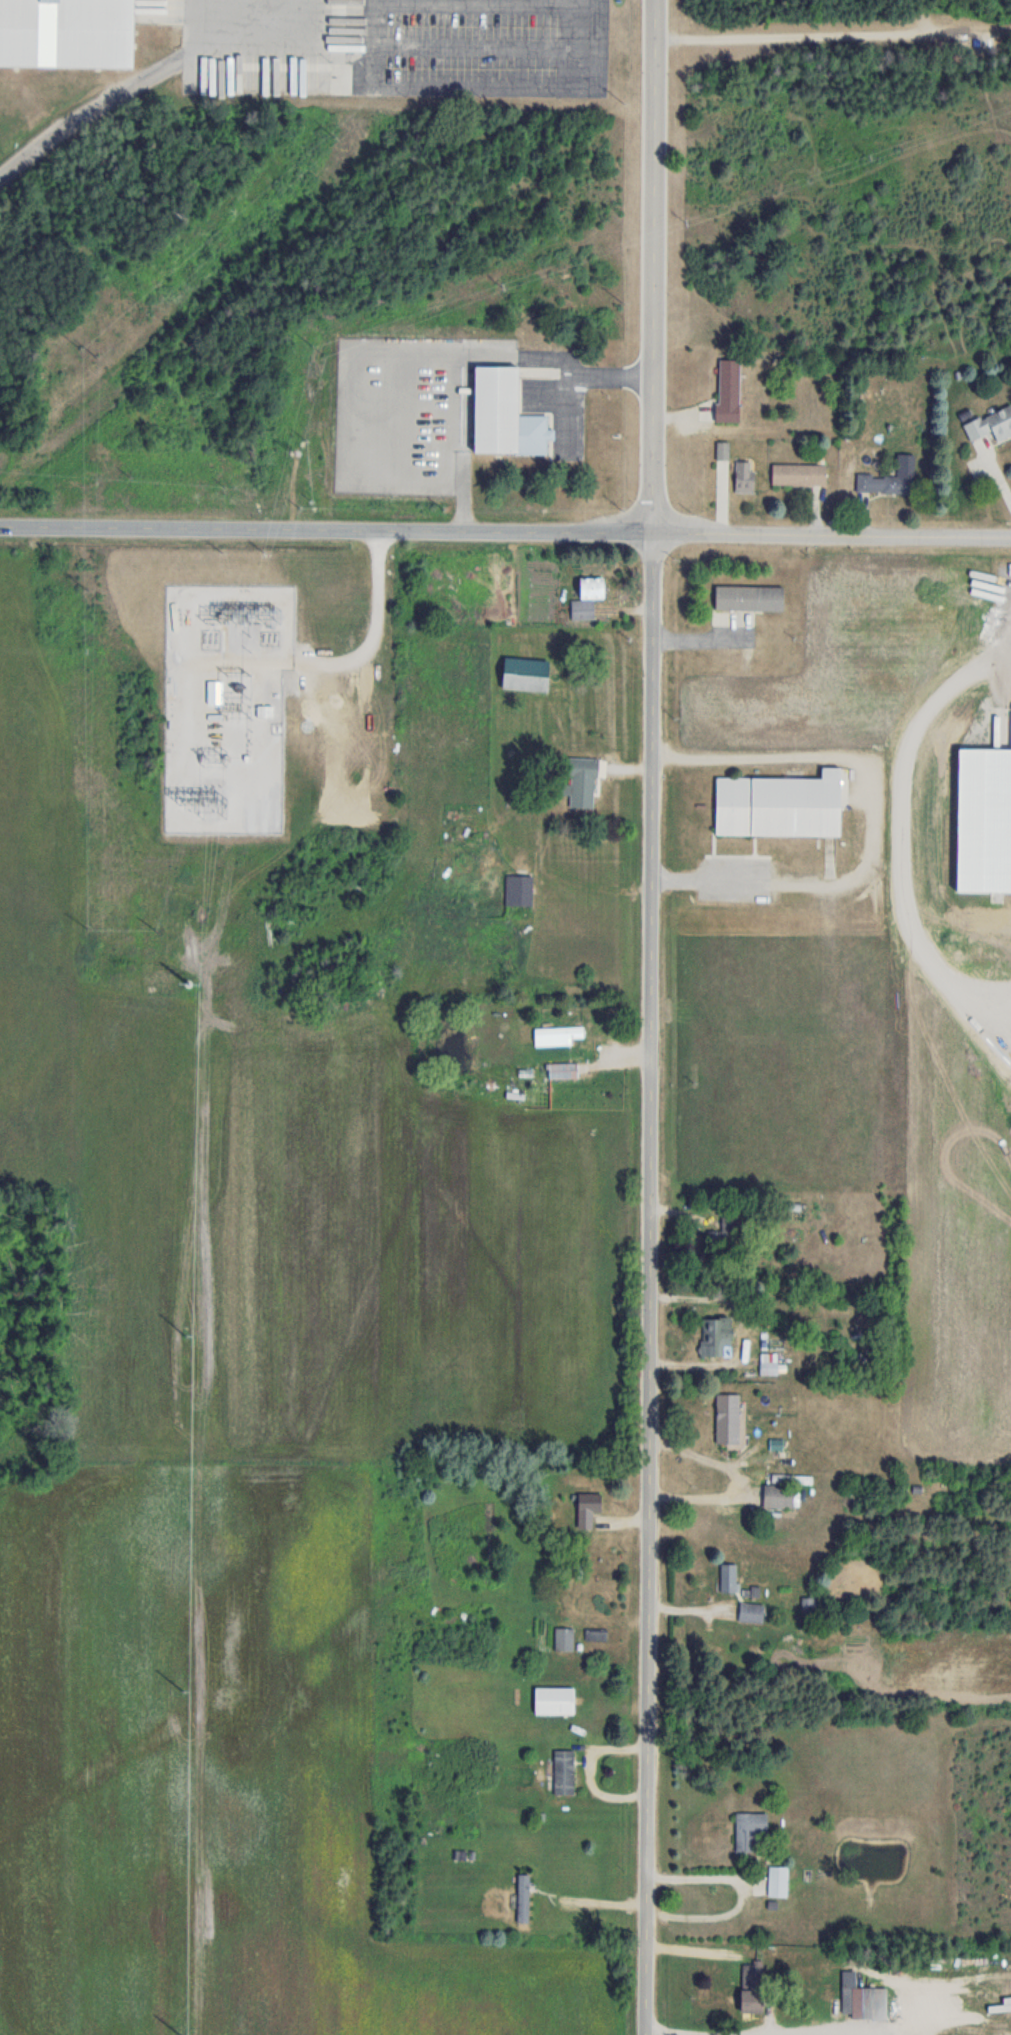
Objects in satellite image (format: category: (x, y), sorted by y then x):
building: (65, 34)
road: (301, 48)
road: (655, 266)
building: (727, 390)
building: (503, 414)
building: (990, 424)
building: (723, 450)
building: (798, 474)
building: (744, 475)
building: (890, 478)
road: (505, 530)
building: (586, 596)
building: (747, 598)
road: (374, 630)
road: (304, 666)
building: (524, 674)
power substation: (224, 708)
building: (262, 713)
building: (582, 782)
building: (778, 805)
road: (872, 820)
building: (982, 821)
building: (518, 891)
power tower: (186, 984)
building: (558, 1033)
building: (564, 1069)
building: (723, 1236)
road: (655, 1283)
power tower: (184, 1335)
building: (715, 1336)
building: (727, 1418)
building: (775, 1440)
building: (778, 1497)
building: (587, 1509)
building: (728, 1578)
building: (811, 1603)
building: (751, 1612)
building: (596, 1634)
building: (564, 1640)
power tower: (183, 1690)
building: (554, 1701)
building: (564, 1772)
building: (748, 1832)
building: (778, 1881)
building: (523, 1898)
building: (751, 1975)
building: (858, 1999)
building: (749, 2001)
power tower: (183, 2034)

